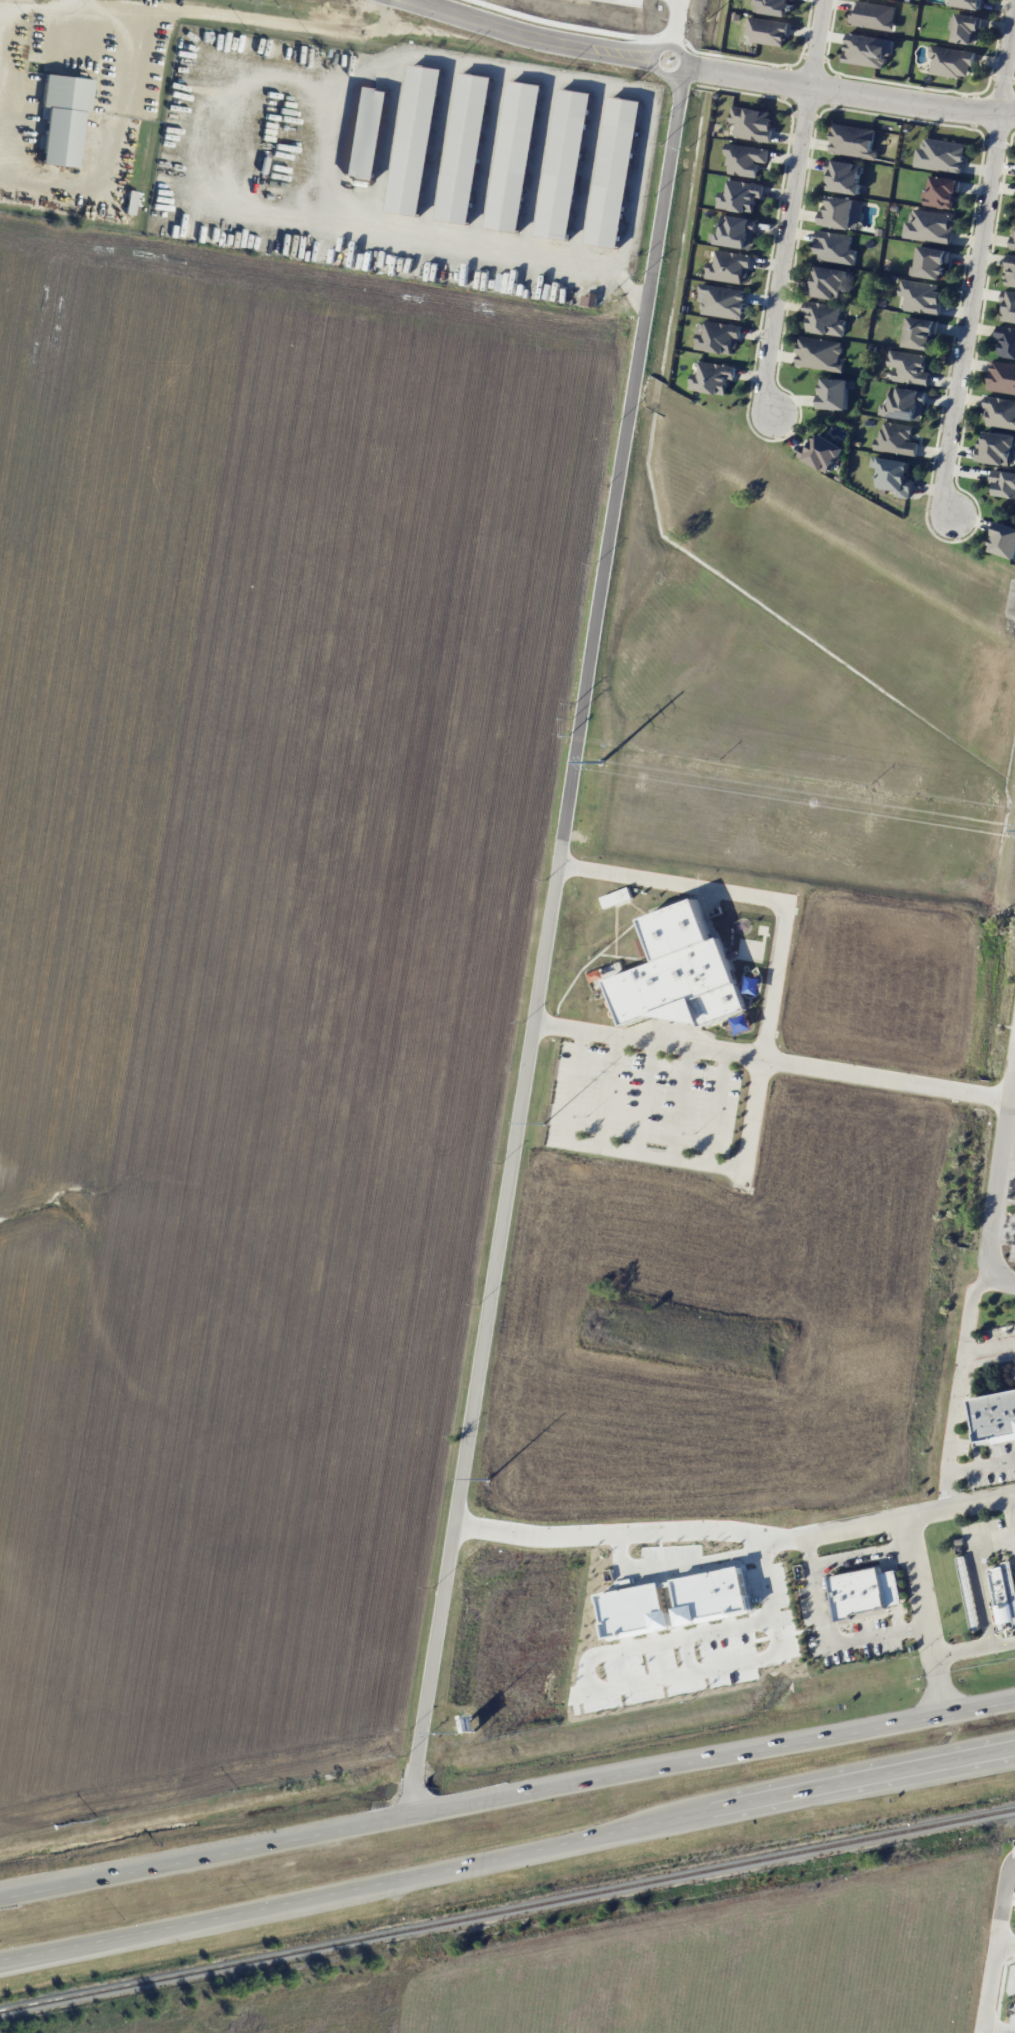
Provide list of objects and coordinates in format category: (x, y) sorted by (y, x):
building: (968, 3)
road: (79, 5)
building: (776, 6)
road: (63, 10)
building: (873, 15)
road: (258, 19)
building: (966, 28)
building: (768, 30)
road: (819, 43)
building: (867, 49)
road: (1005, 56)
building: (951, 61)
road: (237, 72)
road: (840, 90)
building: (62, 117)
building: (752, 122)
building: (364, 133)
building: (415, 139)
building: (853, 141)
road: (387, 142)
building: (465, 148)
road: (105, 149)
road: (438, 150)
road: (324, 154)
building: (940, 155)
building: (514, 156)
road: (487, 158)
building: (745, 159)
building: (563, 164)
road: (537, 166)
building: (614, 171)
road: (586, 173)
building: (844, 176)
building: (942, 191)
building: (740, 195)
building: (131, 202)
building: (841, 212)
building: (928, 226)
building: (738, 231)
building: (1012, 242)
building: (835, 247)
road: (786, 250)
building: (930, 262)
building: (729, 266)
building: (1011, 271)
building: (828, 282)
building: (920, 296)
building: (589, 299)
building: (722, 301)
building: (1008, 304)
road: (968, 312)
building: (824, 317)
building: (919, 332)
building: (717, 336)
building: (1006, 341)
building: (819, 353)
building: (909, 366)
building: (712, 377)
building: (1001, 377)
building: (834, 393)
building: (906, 403)
building: (1000, 411)
building: (896, 438)
building: (995, 447)
building: (822, 453)
building: (893, 475)
building: (1003, 483)
building: (1003, 540)
power tower: (599, 764)
road: (566, 813)
road: (744, 893)
building: (616, 897)
building: (679, 972)
road: (772, 1059)
road: (613, 1091)
road: (647, 1097)
road: (684, 1103)
road: (719, 1108)
power tower: (543, 1123)
road: (651, 1155)
road: (1000, 1200)
parking lot: (1009, 1233)
road: (990, 1348)
road: (960, 1388)
building: (994, 1417)
road: (981, 1464)
power tower: (486, 1486)
road: (1010, 1519)
road: (614, 1534)
road: (799, 1540)
road: (862, 1555)
road: (976, 1572)
building: (1004, 1589)
building: (859, 1592)
building: (968, 1593)
building: (717, 1602)
road: (679, 1606)
road: (923, 1616)
building: (641, 1617)
road: (829, 1636)
road: (667, 1643)
road: (973, 1650)
road: (691, 1656)
road: (648, 1681)
power tower: (455, 1733)
road: (710, 1754)
road: (711, 1814)
road: (202, 1854)
railway: (507, 1910)
road: (204, 1918)
road: (1005, 1943)
road: (995, 1945)
road: (3, 1958)
road: (997, 2030)
road: (1004, 2032)

